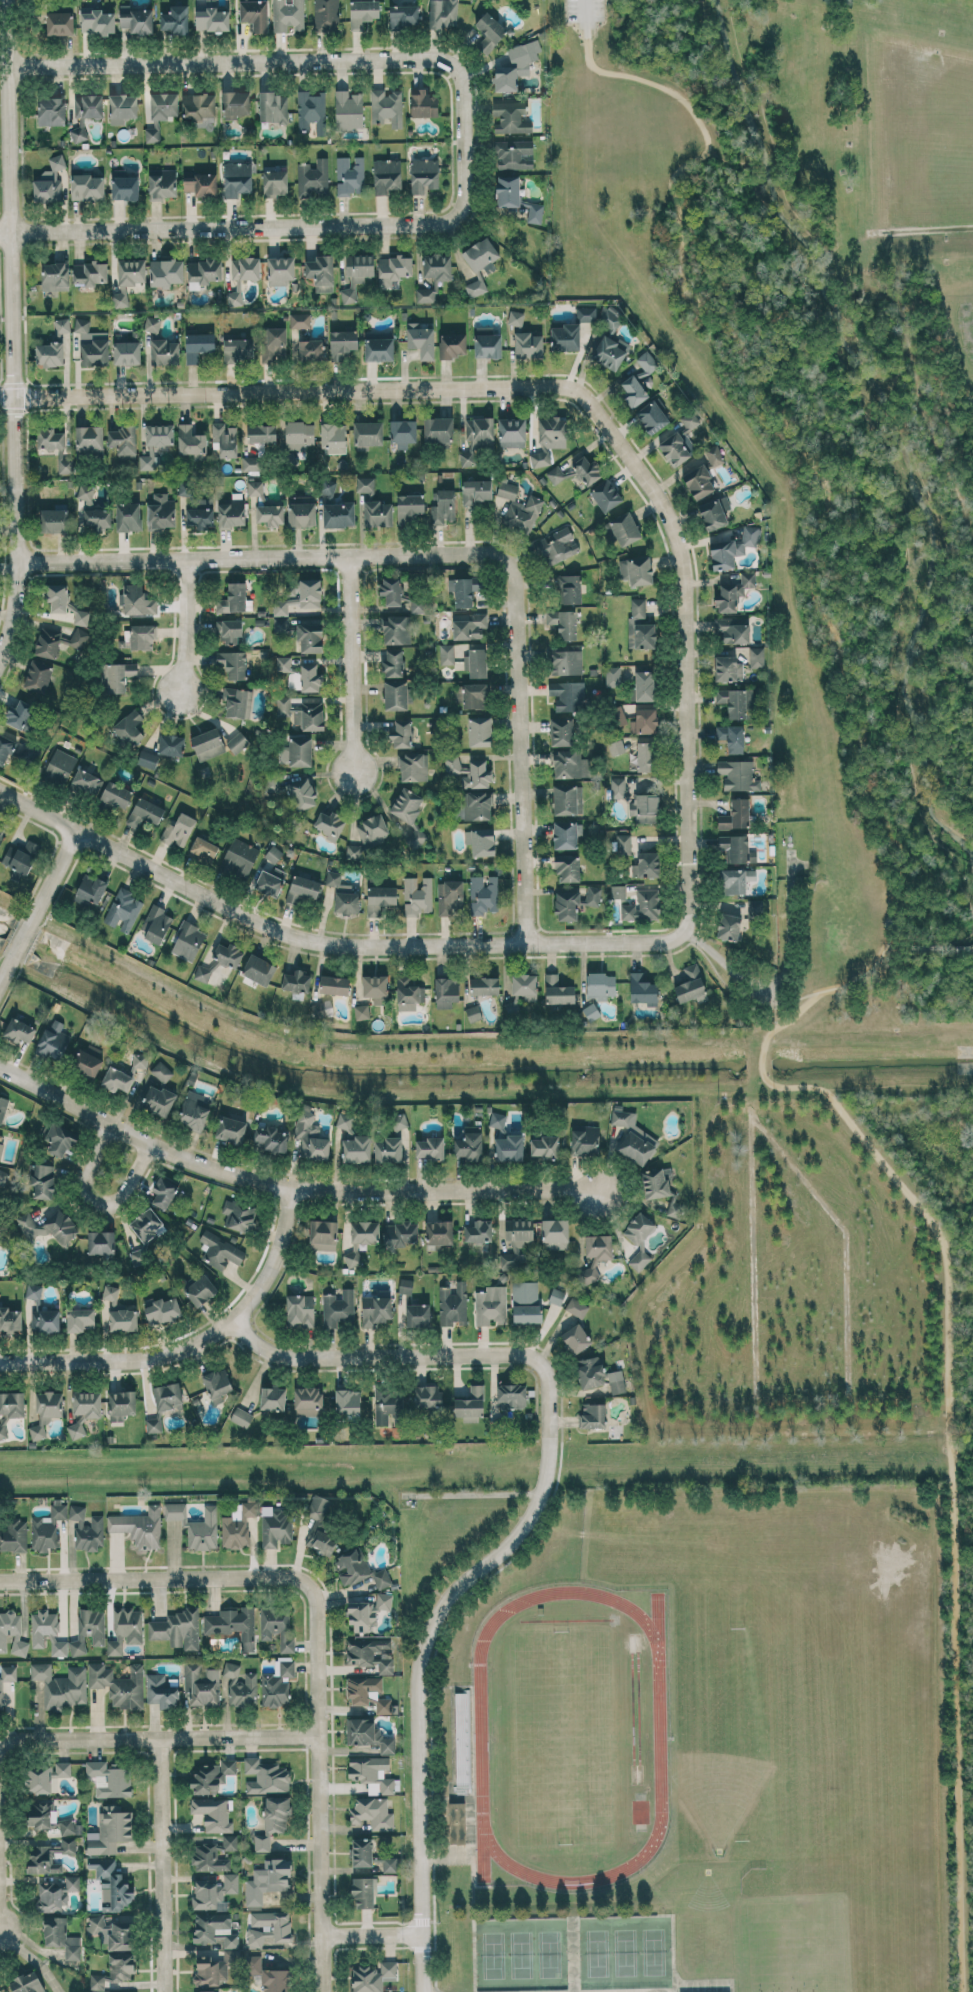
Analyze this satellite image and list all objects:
parking lot: (583, 9)
road: (582, 10)
building: (363, 12)
building: (442, 13)
building: (254, 14)
building: (326, 14)
building: (287, 15)
building: (403, 16)
building: (211, 17)
building: (136, 19)
building: (175, 19)
building: (96, 21)
building: (59, 23)
building: (489, 32)
road: (303, 58)
building: (515, 68)
building: (423, 103)
building: (235, 104)
building: (198, 105)
building: (88, 106)
building: (273, 107)
building: (386, 107)
building: (122, 108)
building: (311, 110)
building: (348, 110)
building: (51, 111)
building: (160, 113)
building: (511, 117)
building: (78, 133)
building: (514, 154)
building: (423, 174)
building: (350, 175)
building: (386, 175)
building: (237, 178)
building: (313, 178)
building: (49, 182)
building: (161, 183)
building: (275, 183)
building: (200, 184)
building: (87, 186)
building: (125, 187)
road: (240, 227)
building: (480, 264)
building: (437, 266)
building: (394, 267)
building: (245, 268)
building: (280, 270)
building: (203, 272)
building: (321, 272)
building: (89, 273)
building: (166, 273)
building: (356, 274)
building: (54, 276)
building: (128, 278)
building: (235, 294)
building: (426, 294)
building: (586, 314)
building: (515, 318)
building: (608, 318)
building: (300, 320)
building: (152, 324)
building: (62, 325)
road: (16, 328)
building: (566, 337)
building: (421, 339)
building: (487, 342)
building: (275, 343)
building: (342, 343)
building: (92, 344)
building: (452, 344)
building: (528, 345)
building: (198, 346)
building: (237, 349)
building: (379, 349)
building: (311, 350)
building: (164, 351)
building: (609, 351)
building: (126, 352)
building: (49, 354)
building: (639, 380)
road: (285, 388)
building: (652, 417)
river: (887, 423)
building: (438, 430)
building: (403, 432)
building: (511, 432)
building: (261, 433)
building: (368, 433)
building: (159, 434)
building: (299, 435)
building: (333, 437)
building: (476, 438)
building: (549, 438)
road: (796, 438)
building: (224, 439)
building: (123, 440)
building: (190, 440)
building: (89, 441)
building: (54, 447)
building: (676, 448)
building: (714, 455)
building: (149, 459)
building: (250, 463)
building: (576, 472)
building: (698, 482)
building: (365, 484)
building: (328, 487)
road: (896, 487)
building: (255, 488)
building: (476, 491)
building: (605, 495)
building: (409, 507)
building: (443, 507)
building: (519, 508)
building: (93, 510)
building: (160, 511)
building: (201, 513)
building: (231, 513)
building: (378, 513)
building: (270, 514)
building: (302, 514)
building: (338, 514)
building: (128, 516)
building: (54, 520)
building: (623, 529)
building: (556, 545)
building: (732, 548)
road: (267, 556)
building: (636, 570)
building: (569, 589)
building: (391, 590)
building: (461, 591)
building: (57, 597)
building: (300, 597)
building: (233, 598)
building: (137, 600)
building: (417, 604)
building: (81, 617)
building: (562, 623)
building: (281, 624)
building: (469, 625)
building: (640, 625)
road: (186, 626)
building: (229, 630)
building: (395, 630)
building: (731, 630)
building: (142, 636)
building: (310, 636)
road: (684, 636)
building: (79, 638)
building: (47, 643)
building: (446, 653)
building: (756, 657)
building: (565, 661)
building: (284, 662)
road: (353, 662)
building: (393, 662)
building: (476, 662)
building: (233, 663)
building: (727, 666)
building: (38, 676)
building: (119, 676)
building: (612, 676)
building: (309, 677)
building: (644, 685)
building: (395, 695)
building: (475, 695)
building: (568, 695)
building: (237, 701)
building: (736, 701)
building: (19, 713)
building: (302, 713)
building: (644, 721)
building: (130, 727)
building: (479, 731)
building: (561, 731)
building: (401, 733)
building: (732, 737)
building: (237, 742)
building: (171, 744)
building: (207, 744)
road: (519, 746)
building: (615, 747)
building: (5, 748)
building: (297, 752)
building: (645, 756)
building: (148, 759)
building: (570, 764)
building: (59, 766)
building: (413, 766)
building: (471, 772)
building: (738, 775)
building: (85, 783)
building: (272, 785)
building: (618, 786)
building: (302, 793)
building: (116, 796)
building: (567, 799)
building: (407, 804)
building: (473, 806)
building: (645, 808)
building: (145, 812)
building: (735, 815)
building: (330, 824)
building: (178, 830)
building: (566, 834)
building: (368, 835)
building: (1, 836)
building: (480, 841)
building: (623, 843)
building: (733, 848)
building: (203, 850)
building: (239, 858)
building: (20, 859)
building: (646, 865)
building: (567, 868)
road: (53, 875)
building: (735, 880)
building: (270, 881)
building: (89, 889)
building: (302, 889)
building: (618, 891)
building: (343, 894)
building: (483, 894)
building: (417, 895)
building: (450, 897)
building: (380, 898)
building: (573, 903)
building: (643, 906)
building: (754, 907)
building: (123, 910)
building: (157, 924)
building: (728, 926)
road: (21, 937)
building: (188, 941)
road: (325, 942)
road: (896, 944)
road: (939, 947)
building: (219, 960)
road: (6, 967)
building: (258, 969)
building: (690, 984)
building: (334, 985)
building: (484, 985)
building: (600, 985)
building: (525, 986)
road: (773, 986)
building: (375, 988)
building: (642, 988)
building: (408, 990)
building: (557, 990)
building: (446, 991)
road: (792, 1000)
building: (361, 1011)
building: (591, 1011)
building: (472, 1013)
building: (18, 1030)
building: (53, 1040)
building: (139, 1061)
building: (87, 1064)
building: (161, 1071)
building: (117, 1079)
road: (895, 1084)
building: (158, 1100)
building: (3, 1107)
building: (194, 1110)
building: (497, 1119)
building: (344, 1120)
building: (399, 1121)
building: (230, 1129)
building: (310, 1134)
building: (633, 1138)
building: (59, 1139)
building: (270, 1139)
building: (585, 1139)
building: (469, 1146)
building: (544, 1146)
building: (509, 1147)
building: (1, 1148)
building: (429, 1148)
building: (356, 1149)
building: (388, 1149)
building: (4, 1178)
building: (42, 1181)
building: (656, 1182)
road: (288, 1186)
building: (163, 1193)
road: (97, 1203)
building: (238, 1216)
building: (146, 1224)
building: (48, 1227)
building: (479, 1231)
building: (439, 1232)
building: (400, 1233)
building: (555, 1234)
building: (323, 1235)
building: (639, 1238)
building: (361, 1239)
building: (516, 1241)
building: (101, 1242)
building: (220, 1251)
building: (138, 1256)
building: (595, 1256)
building: (405, 1285)
building: (199, 1289)
building: (556, 1296)
building: (525, 1302)
building: (452, 1303)
building: (490, 1305)
building: (338, 1307)
building: (576, 1307)
building: (161, 1310)
building: (300, 1310)
building: (375, 1310)
building: (42, 1312)
building: (120, 1312)
building: (417, 1315)
building: (10, 1318)
building: (80, 1319)
building: (575, 1338)
road: (193, 1344)
building: (590, 1372)
building: (217, 1384)
building: (617, 1386)
road: (948, 1387)
building: (511, 1395)
building: (167, 1396)
building: (427, 1397)
building: (272, 1398)
building: (308, 1401)
building: (347, 1401)
building: (12, 1404)
building: (87, 1404)
building: (121, 1404)
building: (469, 1404)
building: (387, 1406)
building: (46, 1411)
building: (593, 1415)
building: (241, 1416)
building: (153, 1425)
building: (76, 1429)
building: (3, 1431)
road: (477, 1493)
building: (196, 1525)
building: (237, 1525)
building: (139, 1526)
building: (276, 1526)
building: (320, 1526)
building: (47, 1527)
building: (86, 1529)
road: (522, 1530)
building: (14, 1535)
building: (351, 1567)
road: (155, 1576)
building: (381, 1578)
building: (383, 1600)
building: (358, 1615)
building: (233, 1624)
building: (42, 1626)
building: (276, 1626)
building: (178, 1628)
building: (88, 1629)
building: (125, 1629)
building: (12, 1633)
building: (59, 1648)
building: (370, 1653)
road: (317, 1658)
building: (9, 1673)
building: (277, 1682)
building: (119, 1684)
building: (201, 1684)
building: (61, 1685)
building: (241, 1686)
building: (161, 1691)
building: (368, 1693)
building: (0, 1699)
building: (367, 1734)
track: (480, 1736)
road: (159, 1738)
building: (371, 1773)
building: (45, 1776)
building: (212, 1776)
building: (266, 1776)
building: (109, 1779)
building: (41, 1813)
building: (212, 1813)
building: (372, 1813)
building: (272, 1821)
building: (456, 1822)
building: (69, 1827)
building: (110, 1830)
building: (230, 1842)
building: (362, 1851)
building: (48, 1856)
building: (209, 1857)
road: (322, 1862)
building: (390, 1864)
road: (162, 1865)
building: (267, 1880)
building: (72, 1882)
building: (111, 1884)
building: (214, 1892)
building: (362, 1892)
building: (51, 1895)
building: (268, 1927)
building: (215, 1929)
building: (112, 1932)
road: (372, 1933)
building: (61, 1936)
park: (624, 1951)
park: (520, 1953)
building: (215, 1968)
building: (114, 1971)
building: (269, 1975)
building: (373, 1976)
building: (27, 1983)
building: (118, 1991)
building: (205, 1991)

